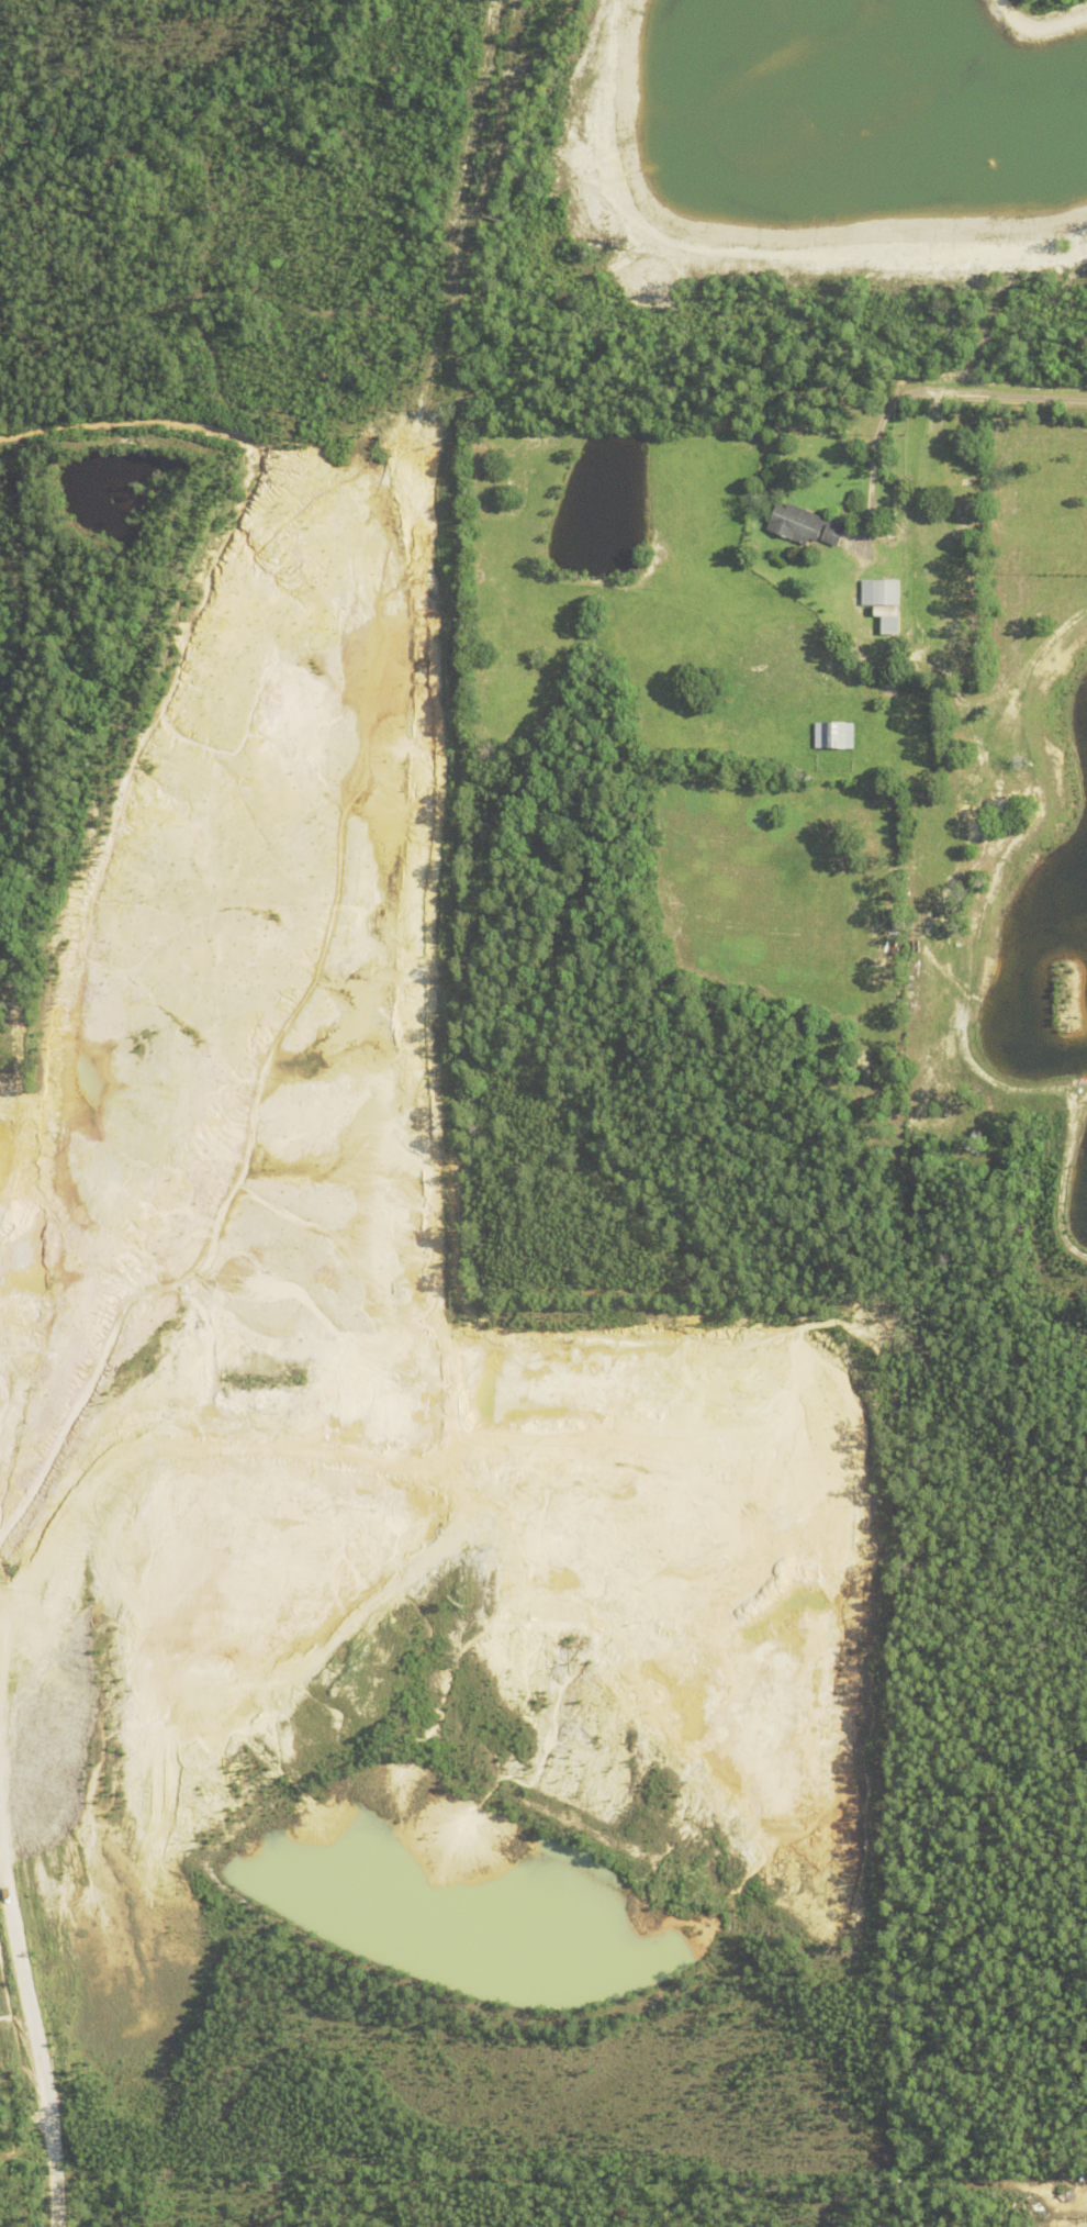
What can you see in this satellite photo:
road: (944, 391)
building: (971, 500)
building: (803, 524)
building: (884, 527)
building: (976, 556)
building: (881, 591)
building: (972, 613)
building: (889, 624)
building: (834, 734)
building: (870, 790)
building: (996, 1135)

